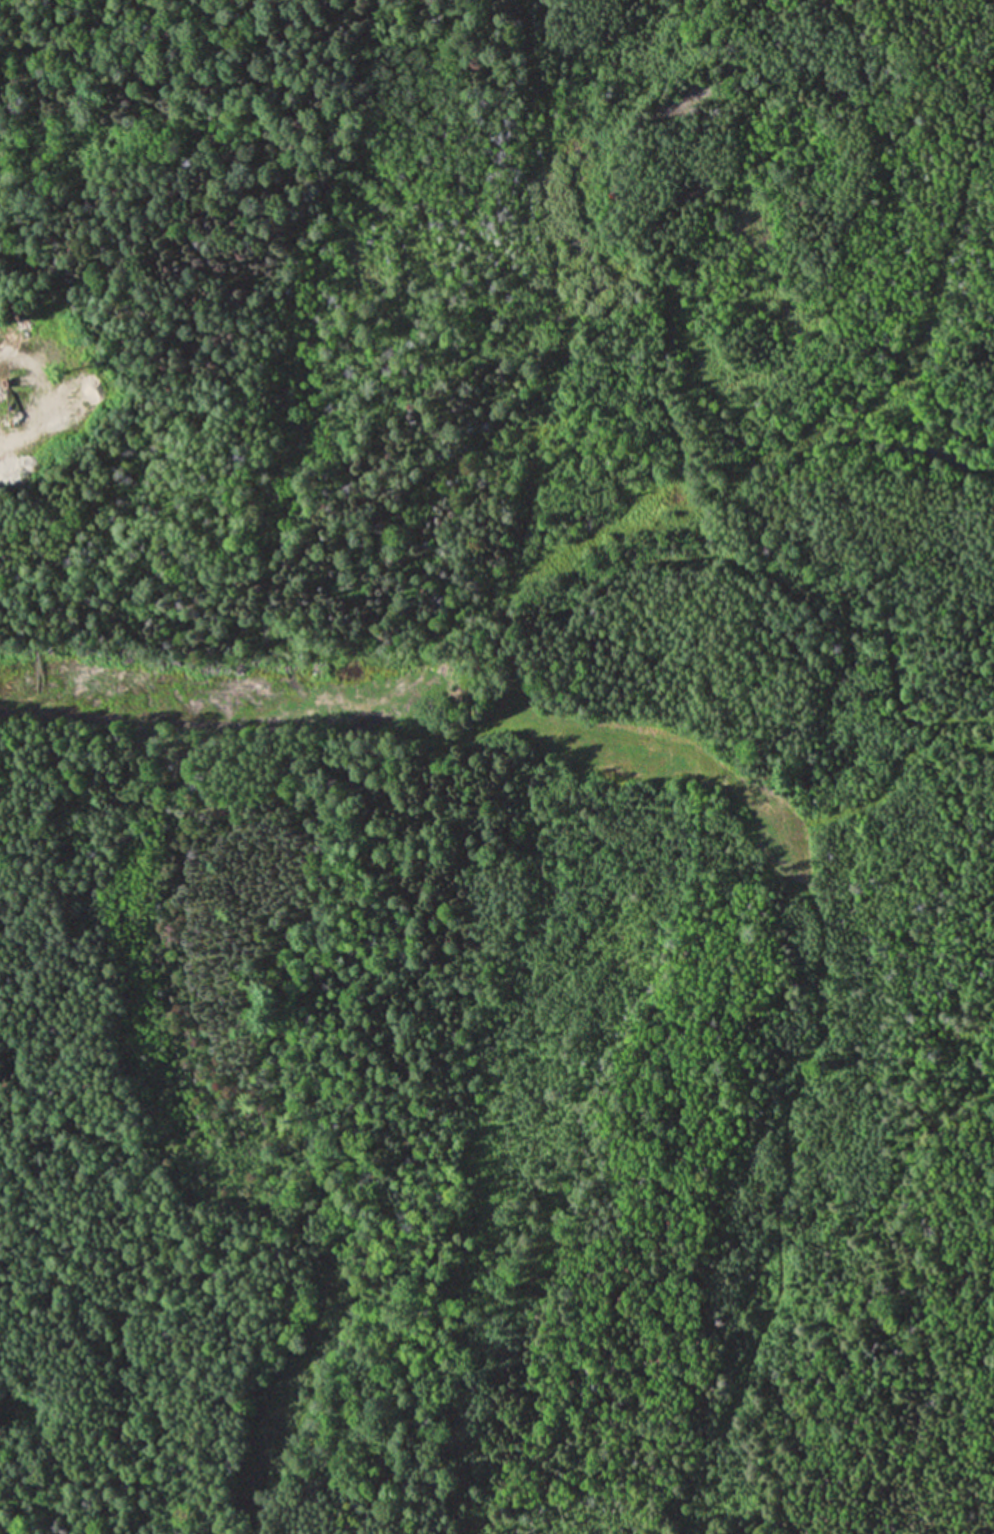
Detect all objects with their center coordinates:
quarry: (60, 387)

